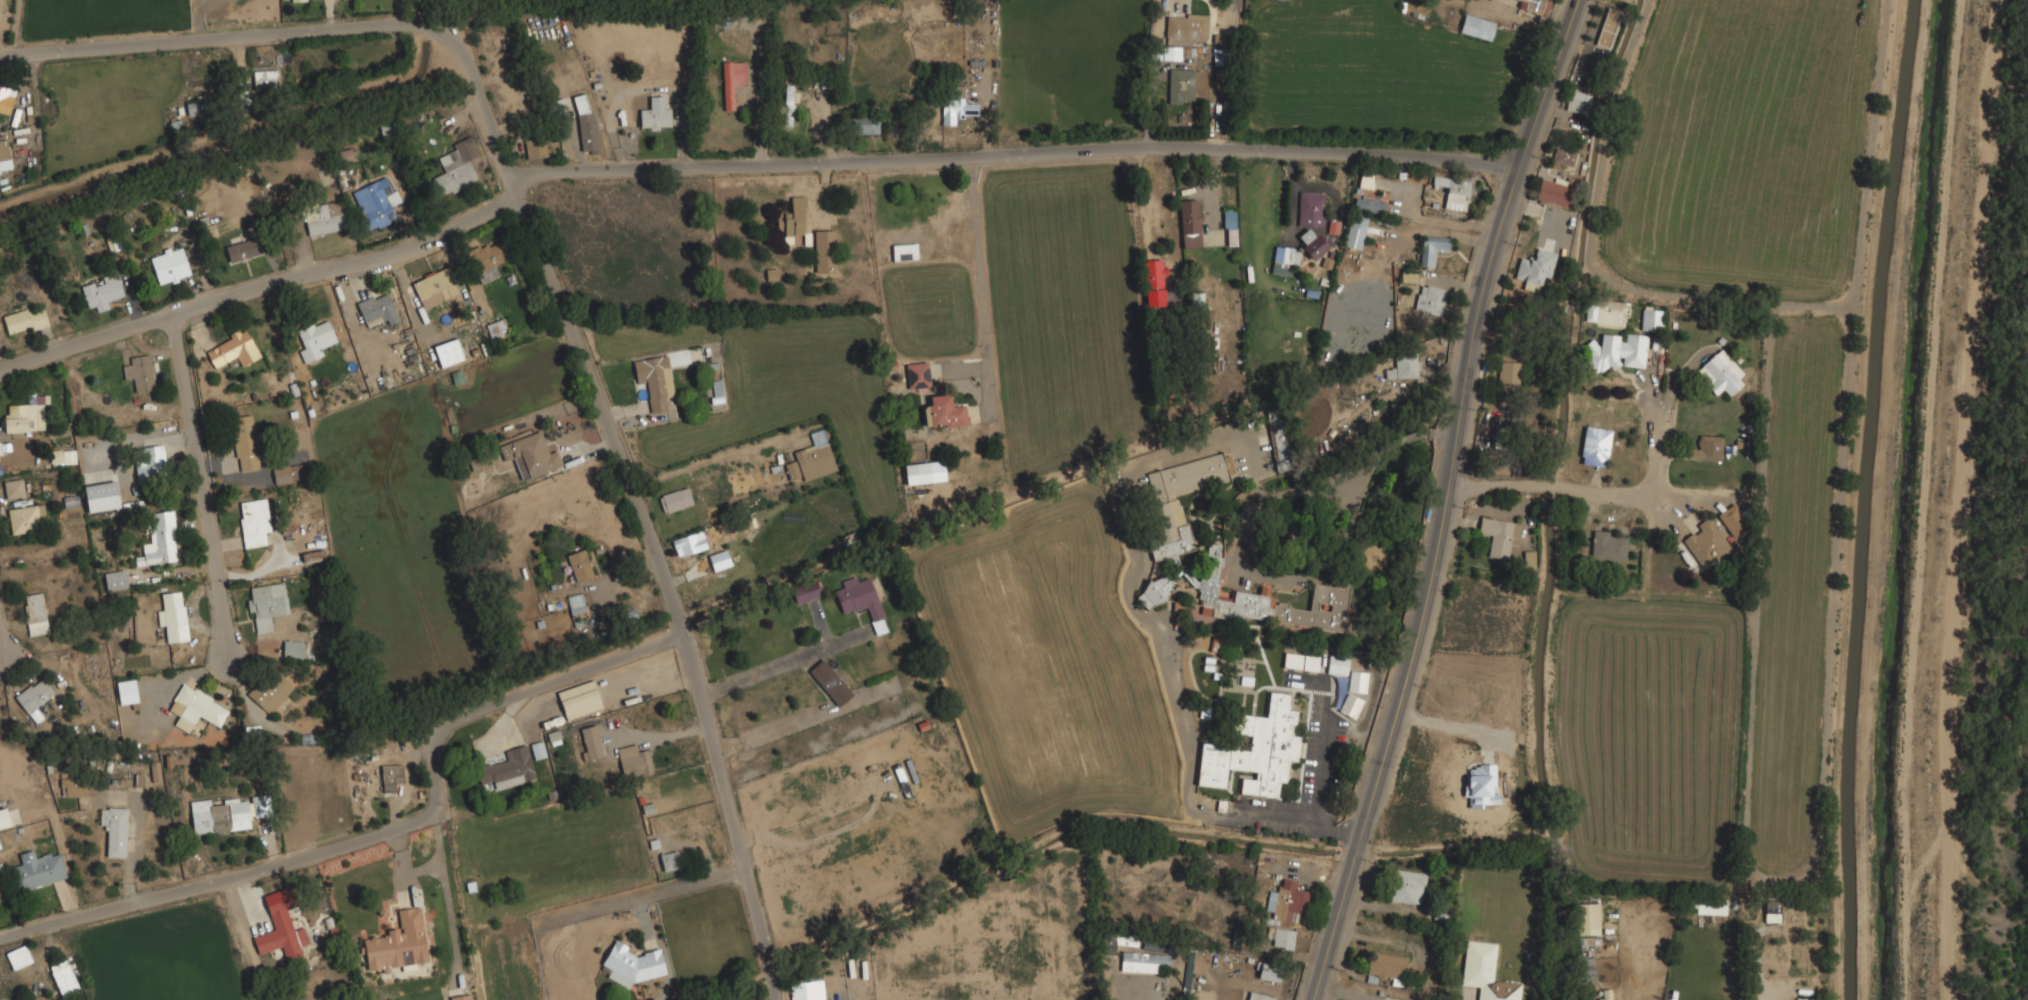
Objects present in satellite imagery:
building: (297, 0)
building: (1530, 5)
road: (442, 16)
building: (1186, 26)
building: (1477, 26)
building: (1607, 27)
road: (218, 37)
building: (265, 79)
building: (732, 81)
building: (1180, 85)
building: (6, 98)
building: (1578, 102)
building: (580, 103)
building: (788, 104)
building: (195, 108)
building: (956, 110)
building: (655, 114)
building: (864, 123)
building: (588, 132)
building: (535, 148)
road: (1015, 154)
building: (4, 155)
building: (1564, 157)
building: (456, 168)
building: (1365, 181)
building: (1556, 191)
building: (1453, 192)
building: (376, 202)
building: (1368, 205)
building: (1310, 209)
building: (324, 218)
building: (779, 222)
building: (795, 222)
building: (1189, 223)
building: (1229, 227)
building: (1356, 231)
building: (1312, 243)
building: (1431, 249)
building: (240, 251)
building: (824, 251)
building: (904, 252)
building: (1281, 260)
building: (488, 261)
building: (170, 266)
building: (1535, 266)
building: (1154, 275)
building: (1407, 276)
road: (983, 283)
road: (265, 284)
building: (432, 287)
building: (101, 292)
park: (1763, 296)
building: (1429, 299)
building: (376, 310)
building: (1590, 313)
building: (24, 320)
building: (1652, 320)
building: (494, 330)
building: (314, 339)
building: (232, 350)
building: (1616, 351)
building: (1403, 367)
building: (140, 372)
building: (1509, 372)
building: (1720, 373)
building: (917, 375)
building: (654, 380)
building: (717, 391)
building: (945, 411)
building: (25, 415)
building: (1278, 440)
building: (245, 443)
building: (1595, 446)
building: (1707, 449)
building: (530, 455)
building: (62, 457)
building: (812, 458)
building: (151, 464)
building: (924, 472)
building: (287, 473)
building: (13, 488)
road: (203, 489)
road: (1599, 492)
building: (101, 497)
building: (1178, 498)
building: (675, 500)
road: (1446, 500)
road: (637, 503)
building: (25, 518)
road: (1250, 518)
building: (1732, 520)
building: (253, 522)
building: (1499, 535)
building: (159, 538)
building: (1706, 543)
building: (689, 544)
building: (1608, 547)
building: (720, 560)
building: (1529, 560)
building: (579, 565)
parking lot: (1241, 571)
building: (115, 580)
building: (1329, 589)
building: (1155, 591)
building: (861, 601)
building: (266, 605)
building: (576, 606)
building: (35, 614)
building: (629, 616)
building: (173, 617)
building: (292, 650)
road: (1, 655)
building: (1300, 661)
road: (781, 665)
building: (1337, 665)
building: (1357, 681)
building: (830, 682)
building: (126, 691)
building: (270, 691)
building: (35, 696)
building: (578, 700)
building: (1350, 705)
building: (195, 708)
road: (769, 729)
building: (590, 743)
building: (538, 749)
building: (1255, 751)
parking lot: (1321, 751)
building: (633, 760)
building: (508, 769)
building: (155, 771)
building: (390, 778)
building: (140, 780)
building: (902, 781)
building: (73, 789)
building: (227, 814)
building: (114, 829)
road: (382, 840)
building: (0, 846)
building: (670, 861)
building: (36, 870)
road: (428, 870)
building: (1407, 886)
road: (642, 895)
building: (1285, 901)
building: (1711, 908)
building: (1771, 913)
road: (449, 916)
building: (1587, 918)
building: (281, 935)
building: (1281, 937)
building: (397, 945)
building: (1108, 945)
building: (18, 957)
building: (1140, 962)
building: (630, 965)
building: (1585, 970)
building: (1268, 972)
building: (1486, 972)
building: (64, 977)
building: (806, 990)
building: (1605, 994)
road: (1767, 995)
building: (1258, 996)
building: (461, 997)

